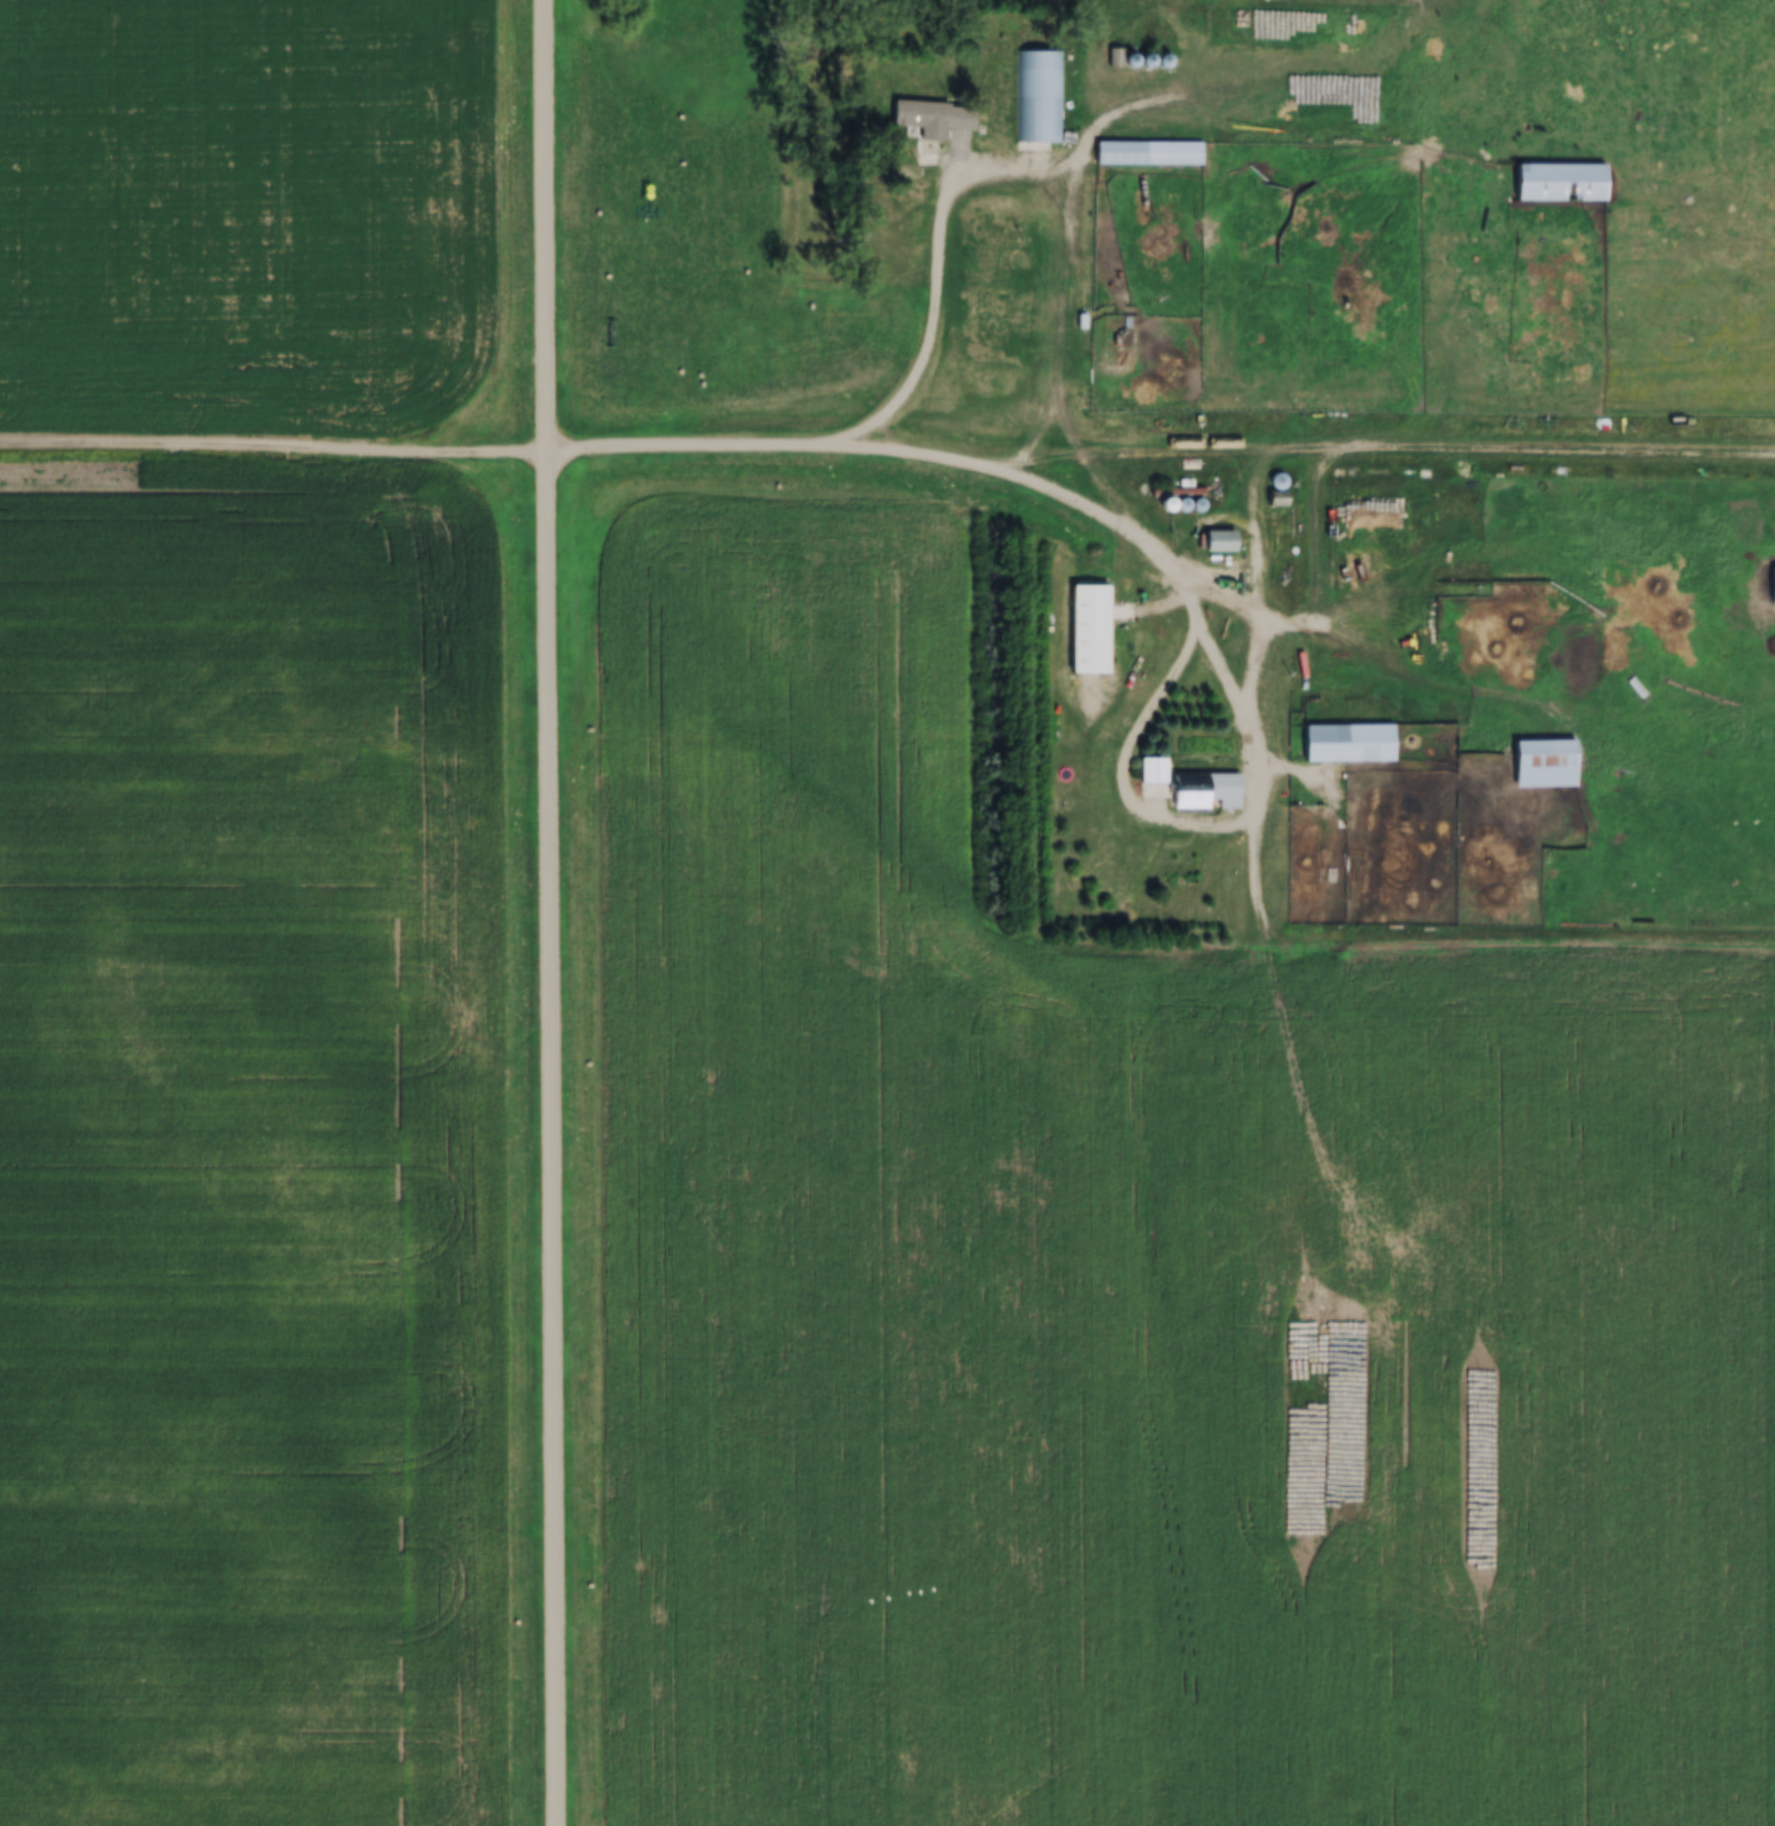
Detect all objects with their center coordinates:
building: (1040, 98)
building: (934, 120)
building: (1149, 155)
road: (943, 280)
building: (1116, 328)
road: (1342, 450)
road: (732, 451)
road: (277, 454)
building: (1278, 483)
building: (1219, 541)
building: (1773, 588)
building: (1090, 630)
road: (1244, 686)
building: (1349, 745)
building: (1188, 787)
road: (559, 912)

